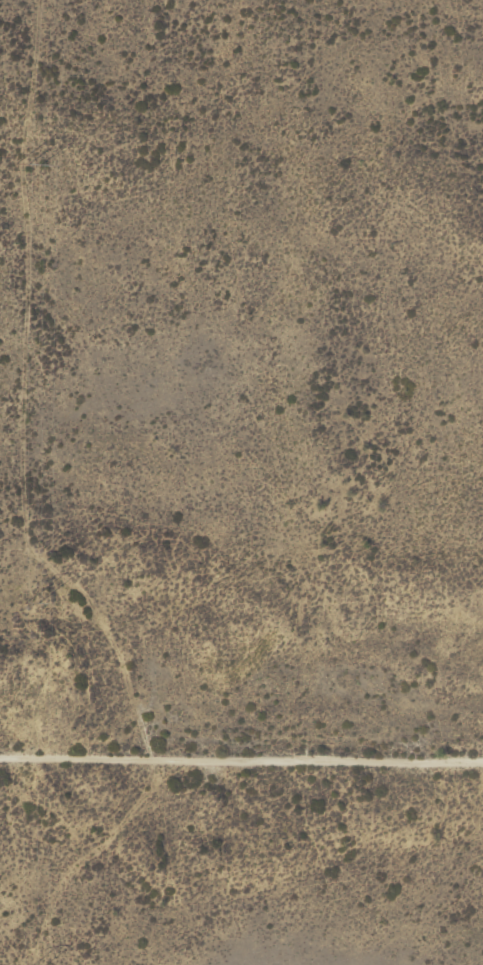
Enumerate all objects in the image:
power tower: (27, 158)
power tower: (29, 598)

